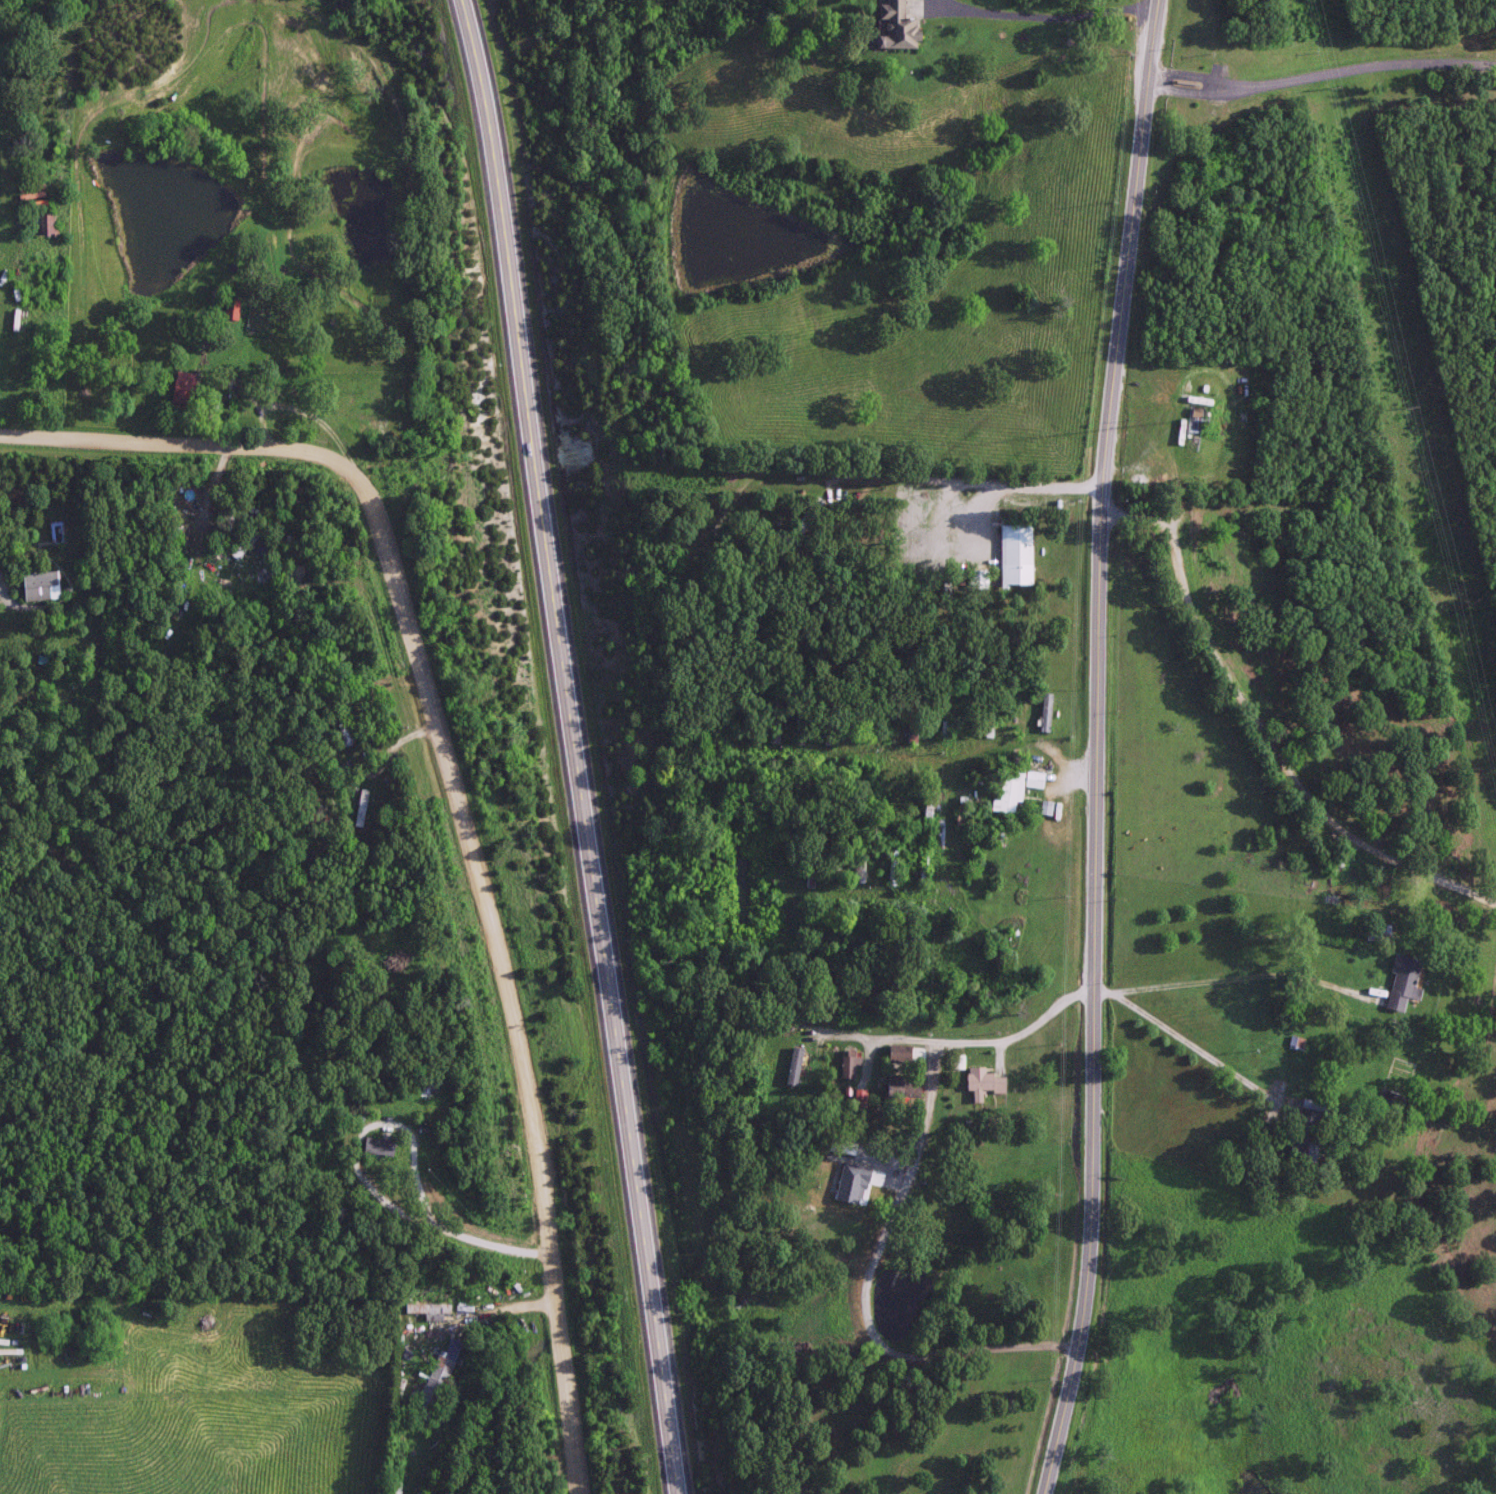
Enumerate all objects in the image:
road: (1053, 12)
building: (894, 26)
road: (1367, 67)
road: (1194, 77)
power tower: (1322, 87)
road: (1193, 90)
building: (43, 223)
building: (232, 308)
building: (184, 387)
power tower: (1392, 409)
building: (1193, 412)
building: (807, 514)
building: (1015, 553)
building: (227, 581)
building: (38, 585)
building: (1045, 711)
building: (1018, 712)
building: (945, 718)
road: (580, 745)
road: (1094, 747)
building: (1009, 790)
road: (458, 799)
building: (929, 799)
building: (354, 809)
building: (847, 864)
building: (892, 866)
building: (921, 868)
building: (809, 874)
building: (1373, 935)
building: (1400, 982)
road: (949, 1040)
building: (904, 1053)
building: (847, 1063)
building: (792, 1065)
building: (982, 1082)
building: (1395, 1082)
building: (901, 1086)
building: (1306, 1129)
building: (379, 1146)
building: (841, 1146)
building: (338, 1221)
building: (429, 1309)
building: (431, 1387)

